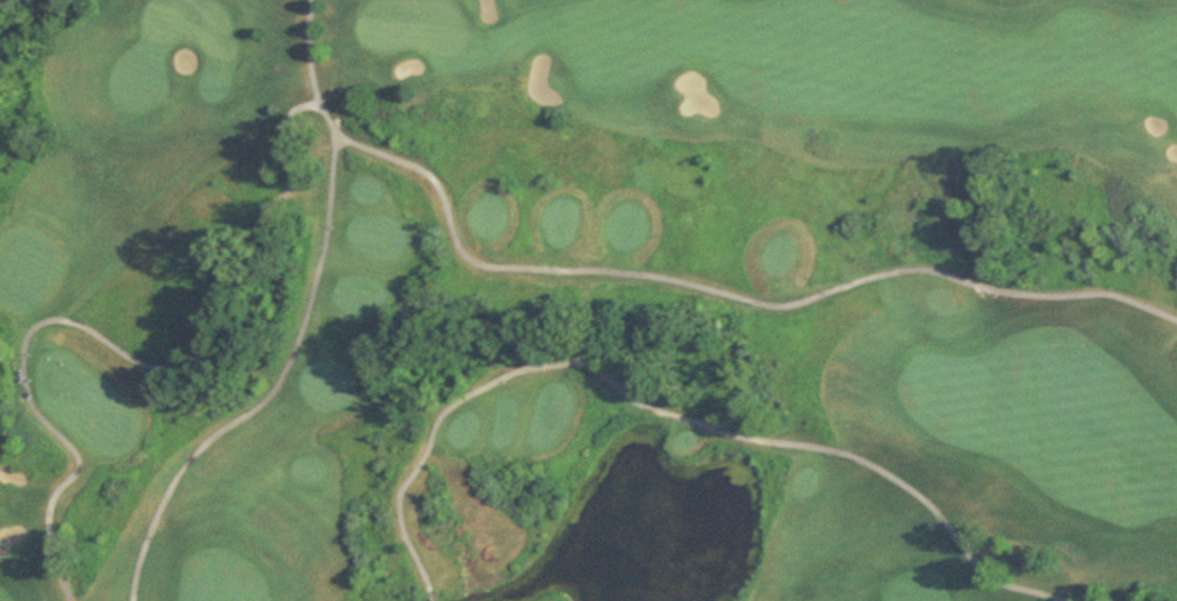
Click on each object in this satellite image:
road: (727, 292)
park: (588, 300)
road: (297, 326)
road: (104, 343)
road: (664, 412)

